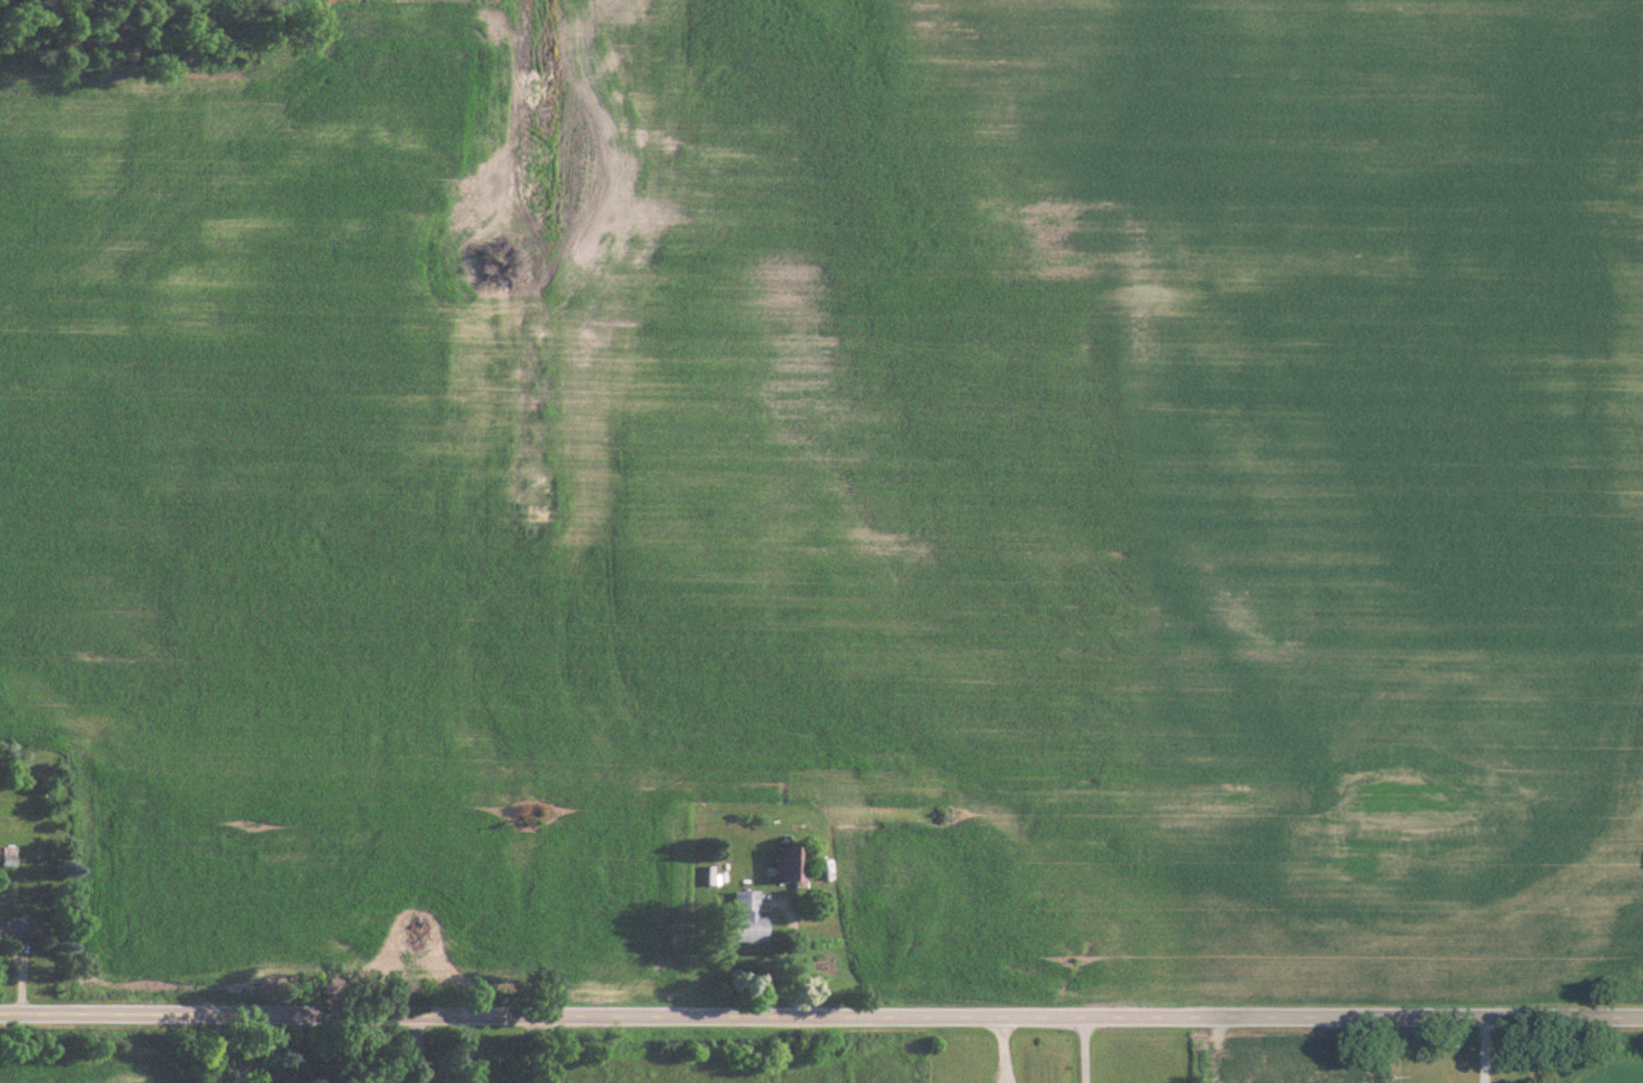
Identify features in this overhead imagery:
building: (781, 861)
building: (740, 916)
building: (13, 927)
road: (820, 1019)
road: (1482, 1049)
road: (1081, 1050)
road: (1000, 1051)
road: (539, 1052)
building: (356, 1081)

